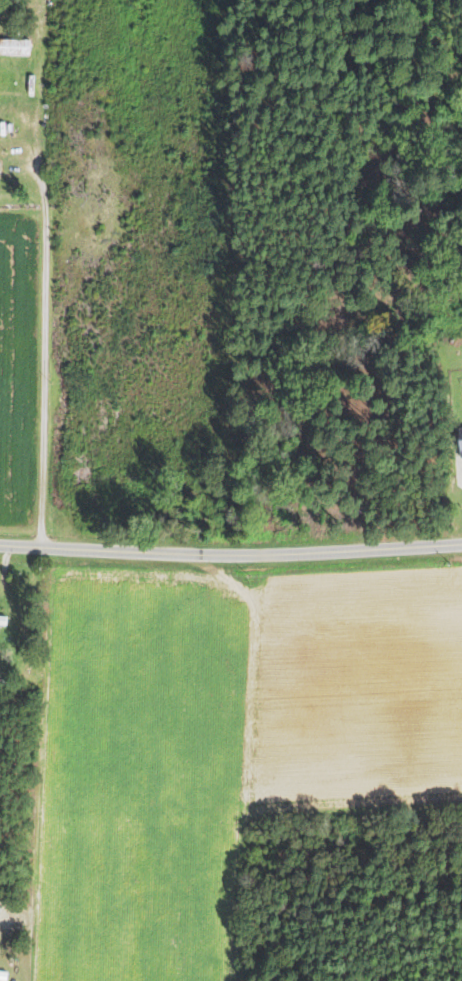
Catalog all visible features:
building: (14, 46)
road: (42, 346)
building: (461, 433)
road: (230, 555)
road: (9, 600)
building: (3, 620)
crop: (221, 743)
building: (1, 973)

